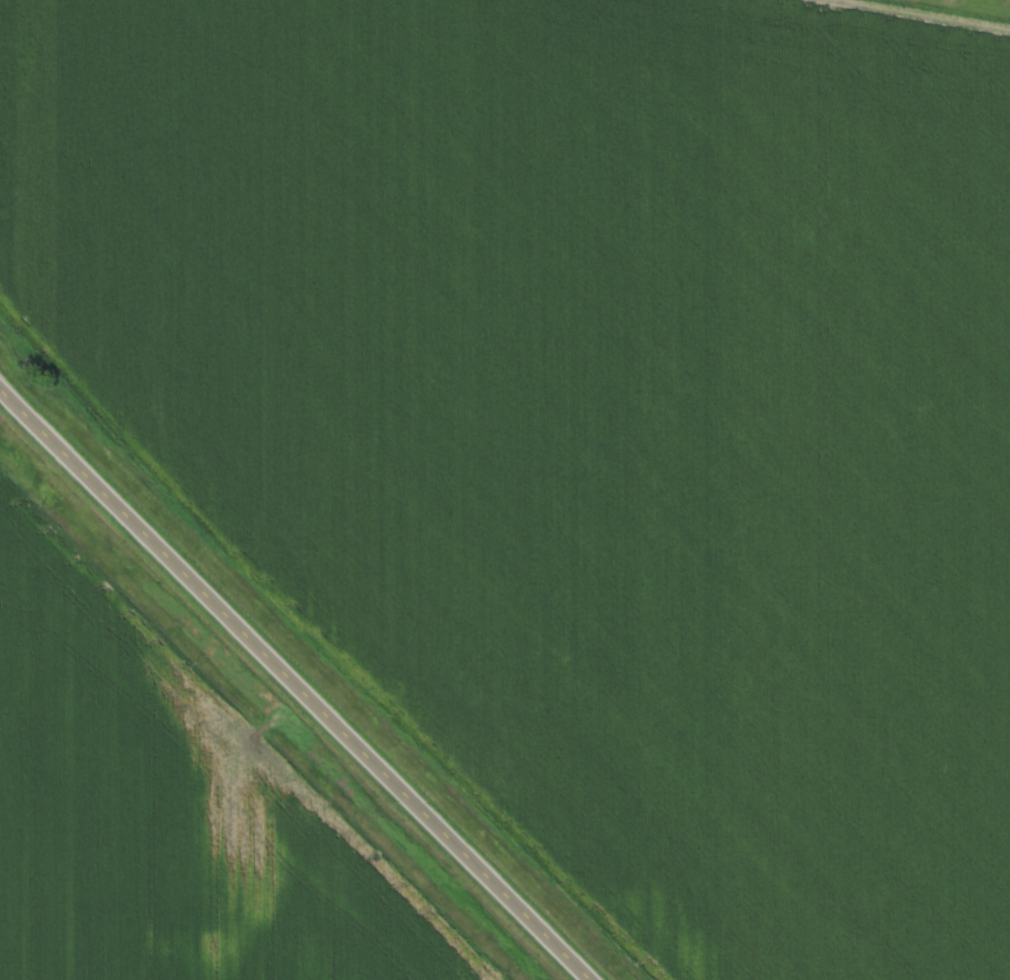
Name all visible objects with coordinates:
road: (295, 683)

